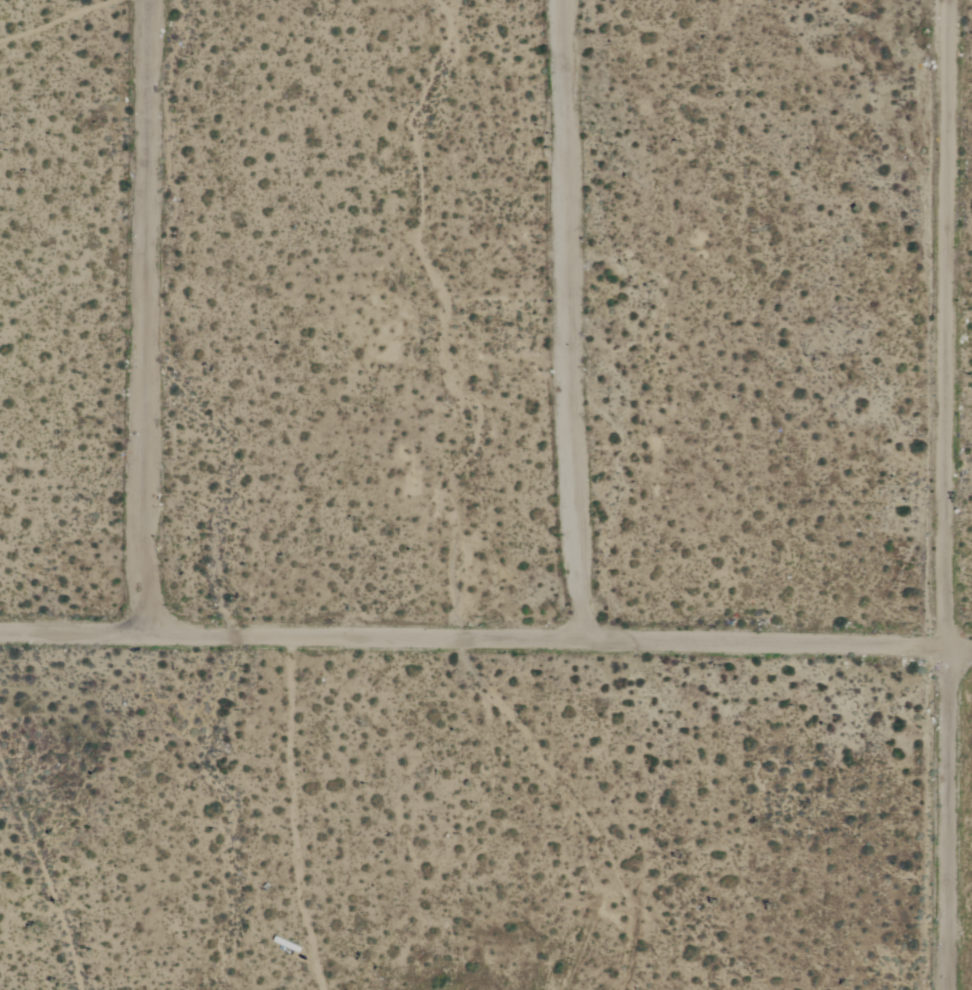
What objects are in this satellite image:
road: (146, 318)
road: (574, 321)
road: (942, 495)
road: (485, 641)
road: (130, 813)

